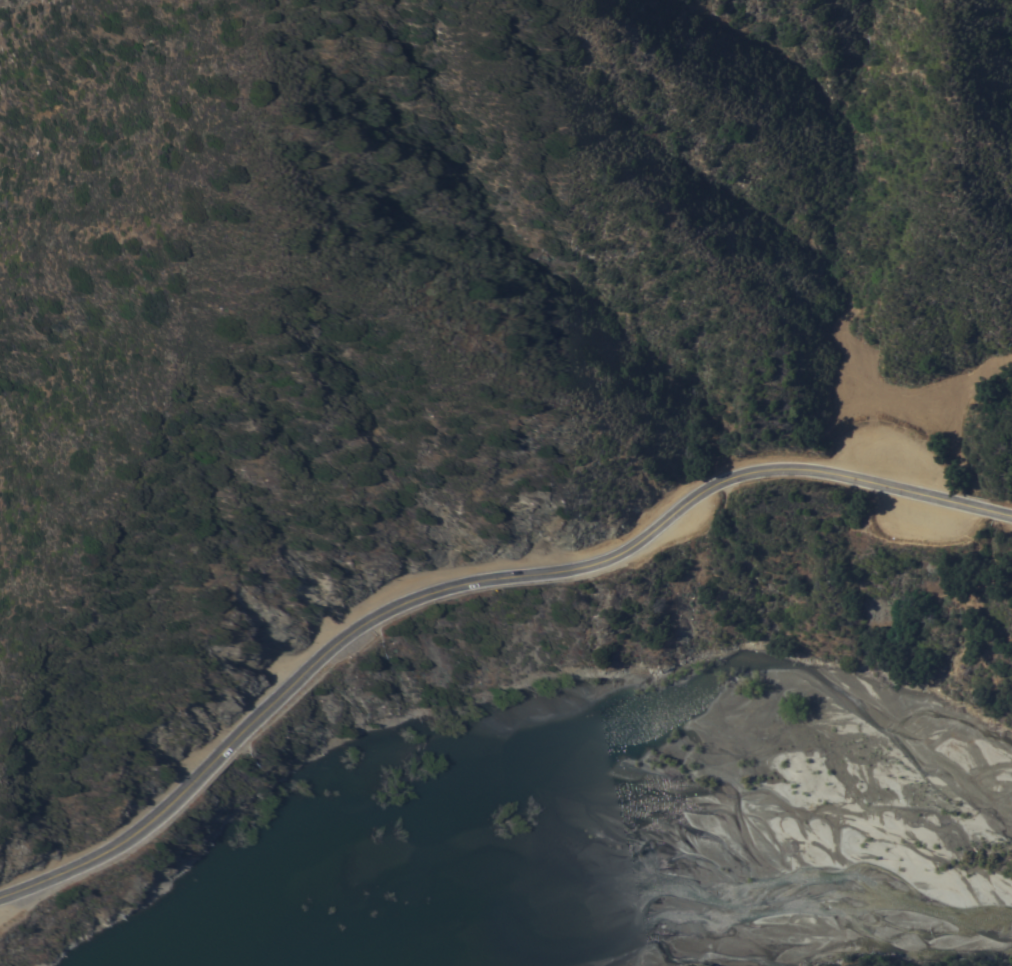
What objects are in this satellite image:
parking lot: (887, 454)
parking lot: (918, 515)
road: (470, 581)
river: (455, 837)
river: (565, 862)
river: (577, 863)
river: (587, 879)
river: (881, 890)
river: (149, 961)

